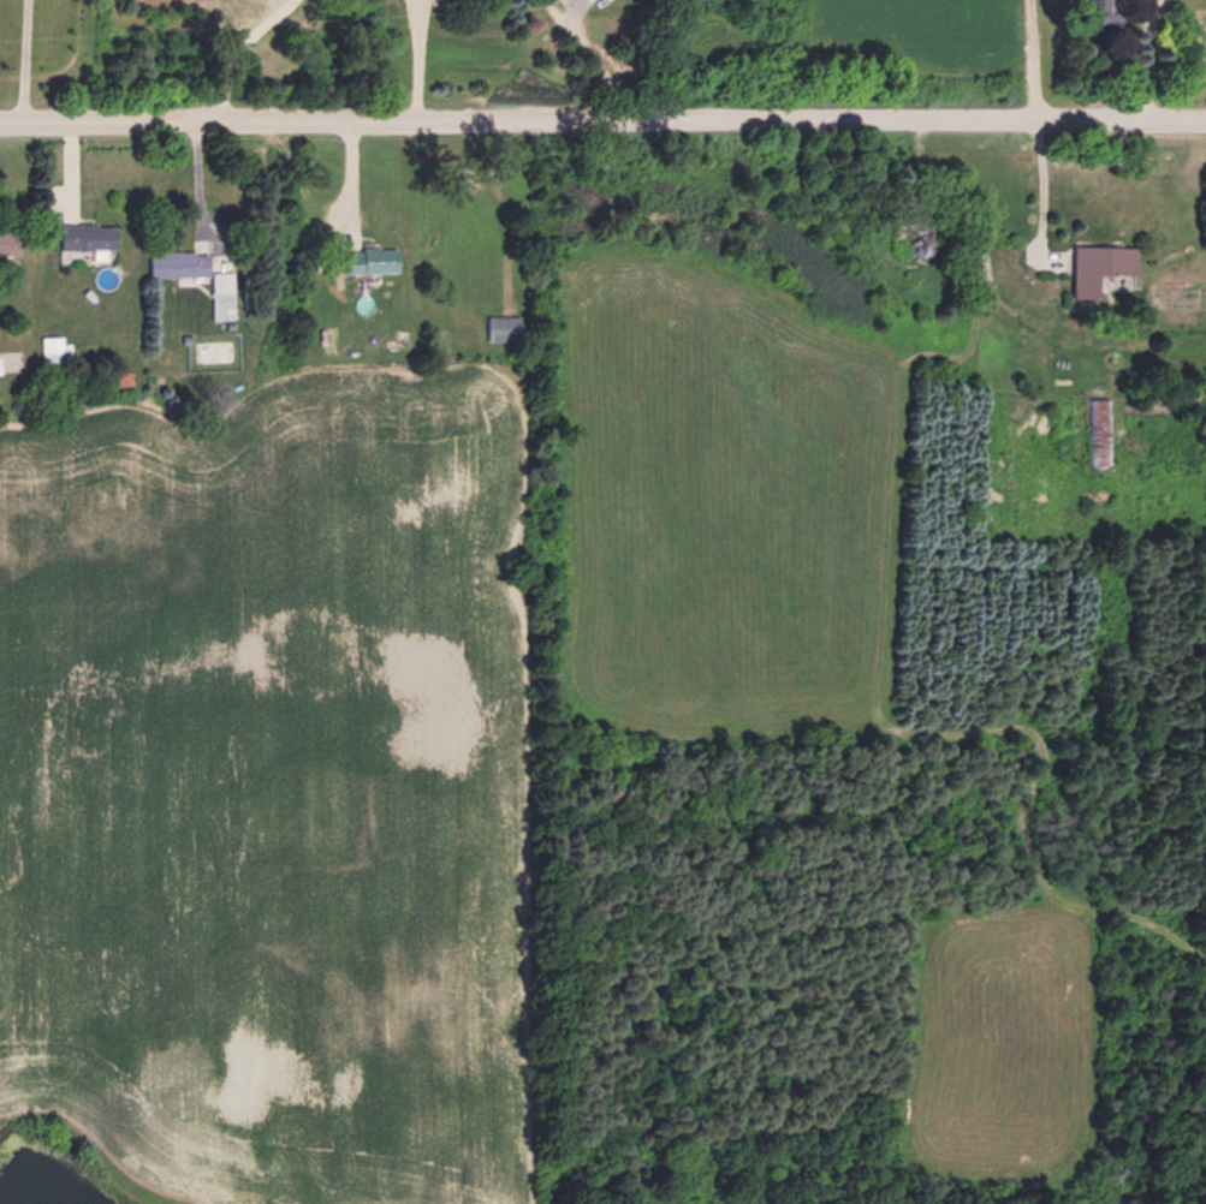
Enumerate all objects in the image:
road: (1141, 56)
road: (24, 58)
road: (418, 58)
road: (602, 117)
building: (78, 234)

